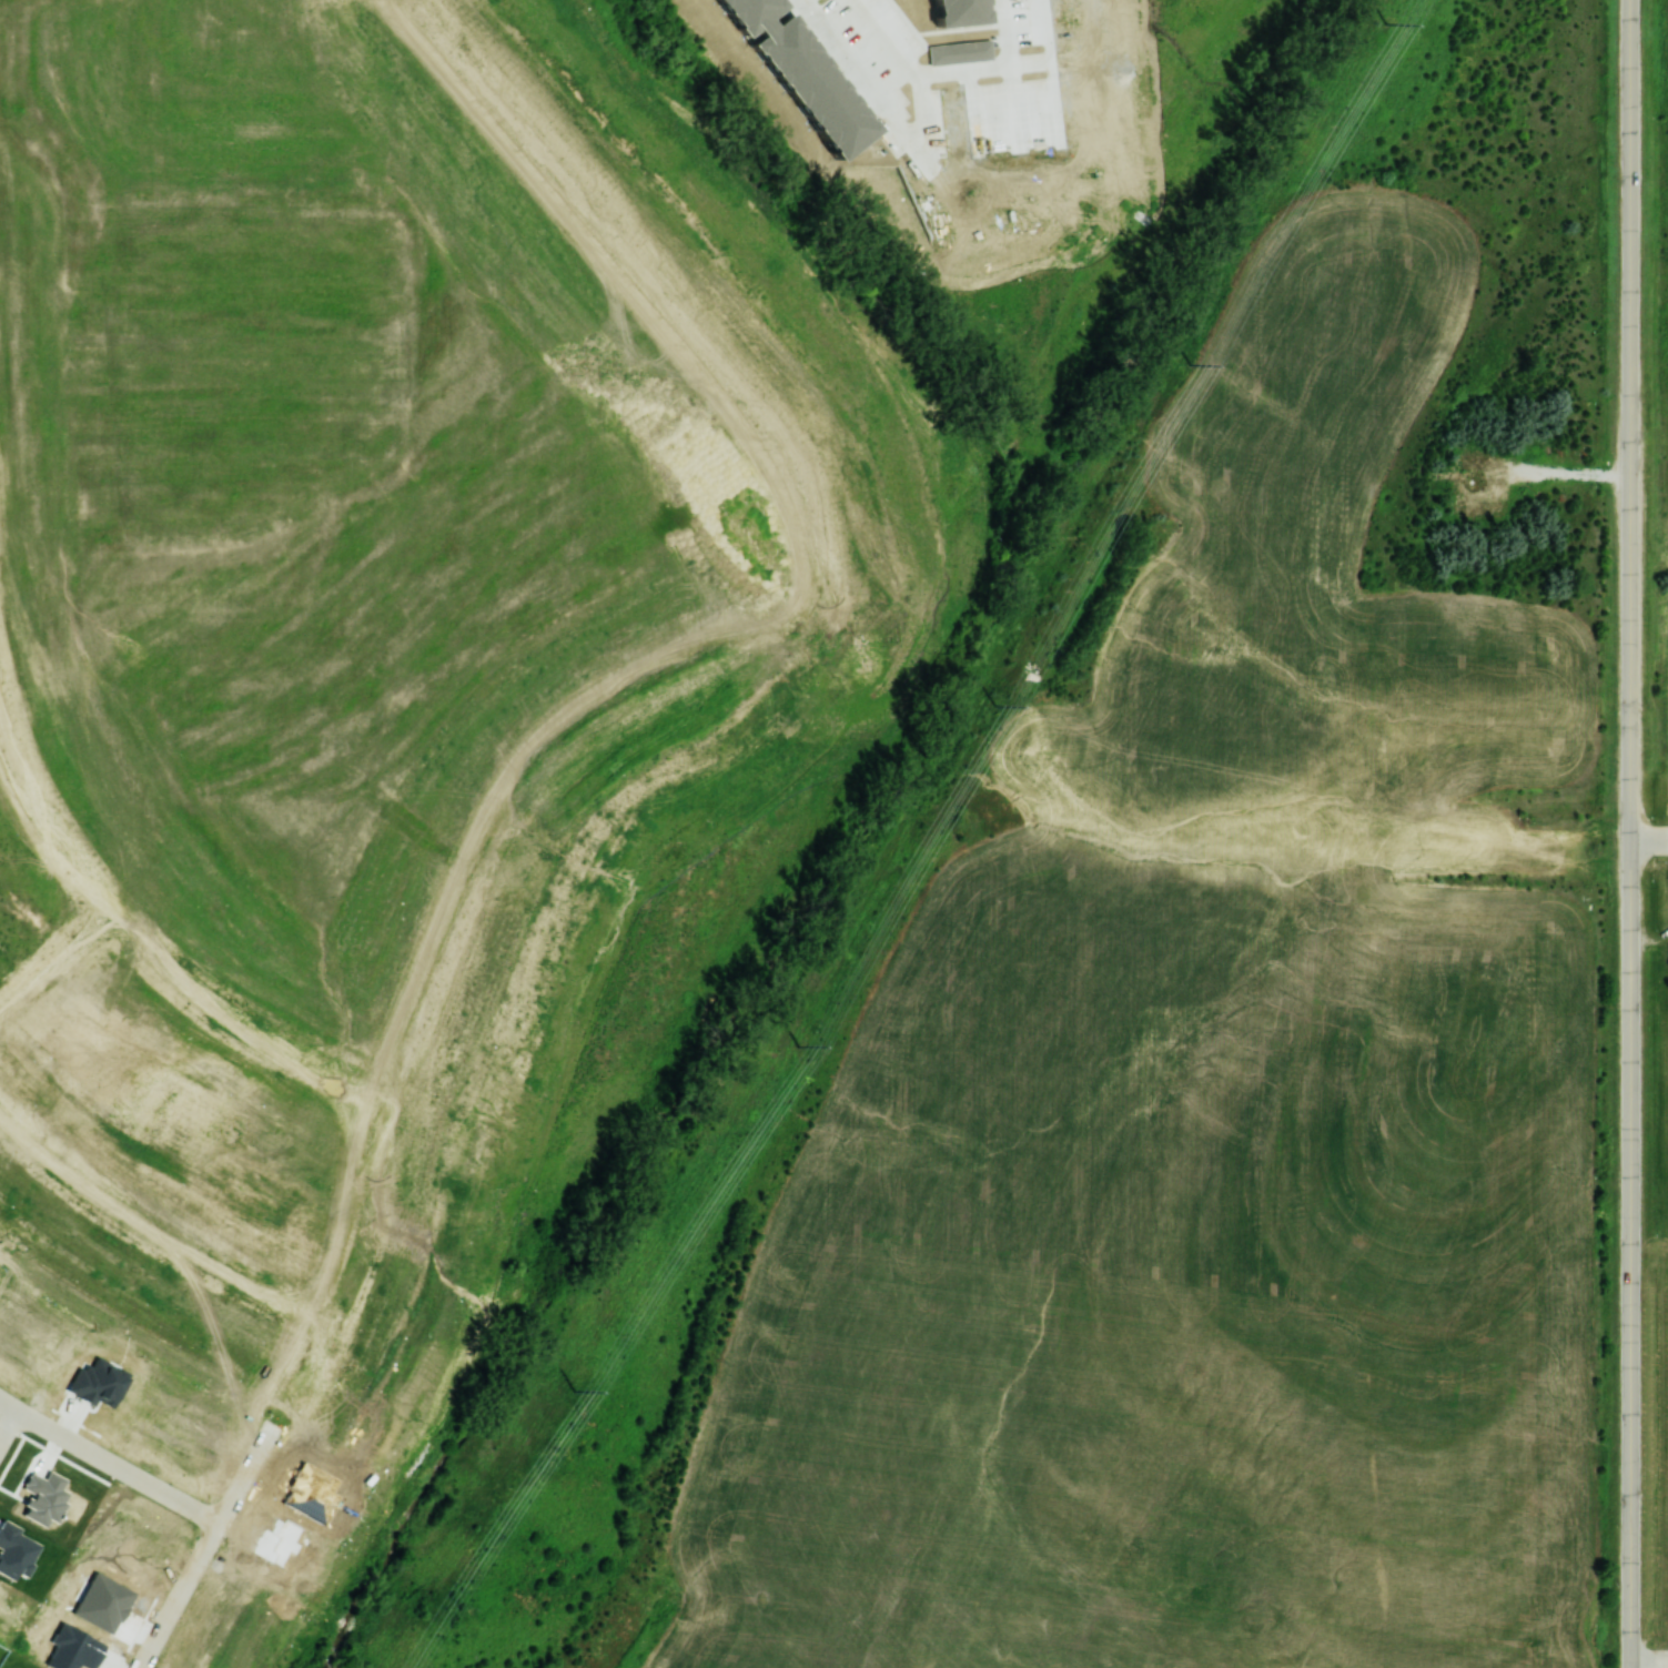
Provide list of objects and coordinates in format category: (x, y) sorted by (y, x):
power tower: (1385, 24)
road: (932, 58)
road: (653, 255)
power tower: (1190, 363)
road: (1601, 397)
road: (1630, 397)
road: (1567, 471)
road: (878, 605)
road: (815, 616)
road: (921, 631)
road: (768, 659)
road: (960, 675)
road: (970, 686)
power tower: (994, 706)
road: (623, 711)
road: (50, 831)
road: (1569, 839)
road: (478, 890)
road: (54, 968)
road: (180, 985)
road: (272, 1042)
power tower: (799, 1045)
road: (342, 1075)
road: (406, 1094)
road: (152, 1239)
road: (1637, 1271)
road: (1615, 1273)
road: (311, 1357)
building: (98, 1383)
power tower: (575, 1392)
road: (9, 1423)
road: (108, 1462)
road: (214, 1530)
road: (174, 1606)
road: (1649, 1661)
road: (1630, 1665)

